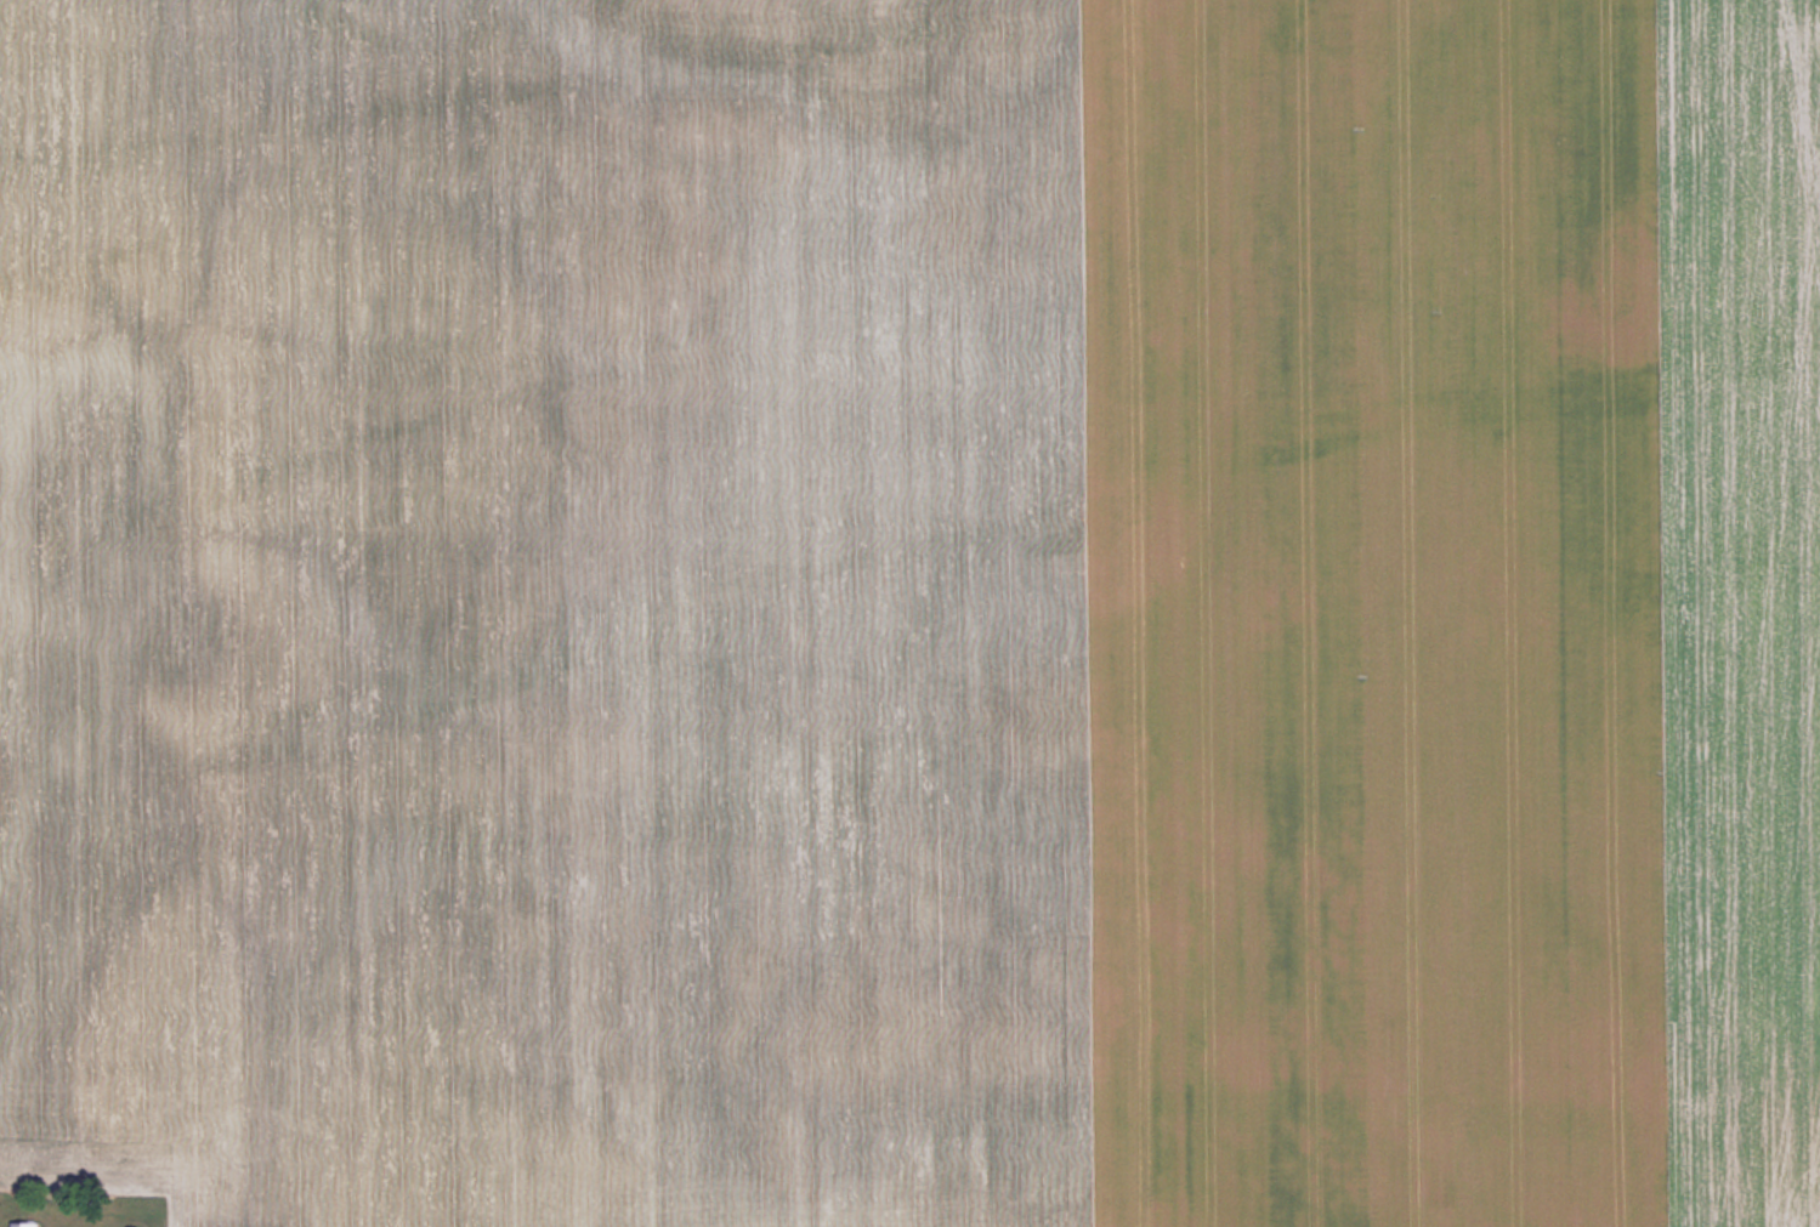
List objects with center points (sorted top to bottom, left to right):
building: (28, 1225)

